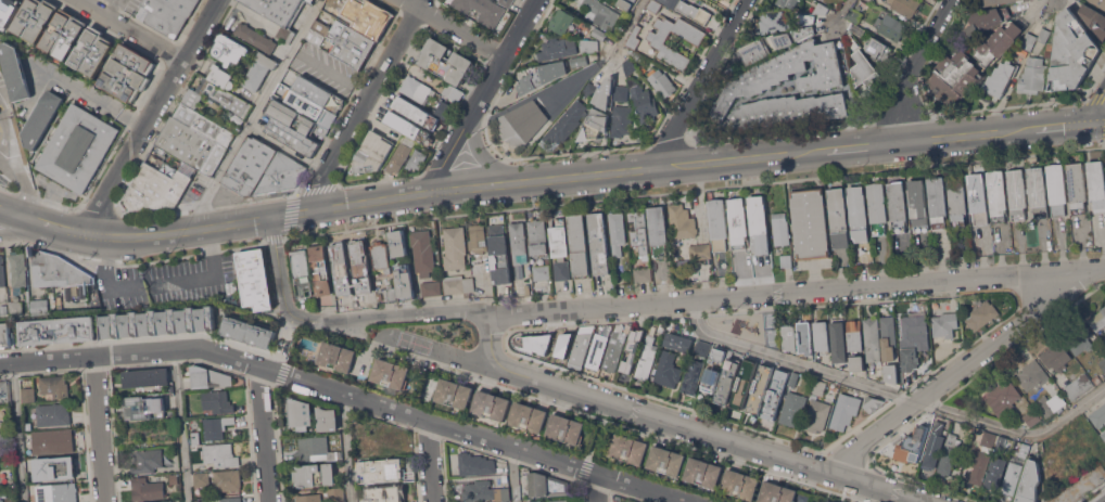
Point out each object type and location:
building: (869, 0)
building: (309, 1)
building: (507, 2)
building: (787, 2)
building: (995, 2)
building: (1100, 2)
building: (626, 3)
building: (655, 5)
building: (906, 7)
road: (1049, 7)
road: (111, 8)
building: (279, 9)
building: (688, 9)
building: (821, 9)
building: (8, 10)
building: (483, 10)
road: (841, 11)
building: (599, 13)
building: (168, 14)
building: (854, 15)
building: (28, 16)
building: (359, 17)
building: (805, 18)
building: (1094, 20)
building: (42, 21)
building: (986, 21)
building: (561, 22)
building: (774, 22)
road: (631, 26)
building: (891, 26)
road: (455, 27)
building: (858, 28)
building: (59, 30)
road: (130, 30)
building: (805, 31)
building: (319, 33)
building: (285, 34)
building: (599, 34)
building: (1044, 36)
building: (71, 37)
building: (255, 37)
building: (634, 38)
building: (783, 40)
building: (1029, 41)
building: (352, 43)
building: (999, 43)
building: (659, 44)
building: (588, 46)
building: (87, 48)
building: (230, 49)
building: (558, 49)
building: (879, 50)
building: (754, 52)
building: (1071, 52)
building: (637, 55)
building: (98, 56)
building: (136, 57)
building: (432, 61)
building: (579, 61)
road: (911, 65)
building: (630, 66)
building: (1, 67)
building: (863, 68)
building: (15, 70)
building: (259, 70)
building: (128, 74)
building: (785, 74)
building: (1033, 75)
building: (542, 76)
building: (955, 76)
building: (221, 77)
building: (1000, 78)
road: (701, 81)
building: (662, 83)
building: (119, 87)
building: (416, 88)
building: (593, 91)
building: (454, 92)
building: (318, 93)
building: (606, 93)
building: (622, 93)
road: (480, 94)
building: (225, 96)
road: (93, 98)
building: (192, 98)
road: (365, 102)
building: (643, 102)
road: (1094, 105)
building: (313, 108)
building: (445, 110)
building: (790, 110)
building: (417, 112)
road: (255, 113)
road: (153, 116)
building: (293, 117)
building: (42, 118)
building: (622, 120)
road: (3, 123)
building: (522, 123)
road: (1095, 123)
building: (566, 124)
traffic signals: (1085, 124)
building: (204, 125)
building: (595, 125)
road: (1060, 126)
building: (408, 127)
building: (292, 136)
road: (970, 136)
building: (192, 145)
road: (866, 146)
building: (78, 147)
building: (372, 152)
building: (401, 154)
building: (417, 159)
building: (251, 166)
building: (281, 176)
road: (25, 182)
building: (1096, 183)
building: (156, 186)
building: (1077, 188)
road: (458, 189)
building: (1057, 189)
building: (1038, 191)
building: (1017, 193)
building: (998, 194)
building: (978, 197)
building: (957, 199)
building: (938, 201)
building: (918, 204)
building: (898, 206)
building: (878, 207)
road: (16, 213)
building: (859, 213)
building: (839, 218)
building: (682, 222)
building: (738, 222)
building: (719, 223)
building: (811, 223)
building: (759, 224)
road: (62, 228)
road: (17, 229)
building: (780, 229)
building: (659, 231)
building: (639, 232)
building: (617, 233)
building: (538, 236)
building: (478, 239)
building: (398, 242)
building: (599, 244)
building: (579, 245)
building: (455, 248)
building: (560, 248)
building: (520, 249)
building: (703, 250)
building: (423, 253)
building: (499, 255)
building: (381, 256)
building: (786, 260)
building: (58, 270)
building: (321, 270)
building: (2, 271)
building: (542, 272)
building: (302, 273)
building: (643, 274)
building: (255, 280)
building: (405, 281)
road: (161, 282)
building: (17, 283)
parking lot: (169, 283)
building: (458, 284)
building: (431, 288)
building: (392, 294)
building: (380, 296)
road: (647, 304)
building: (40, 307)
building: (982, 314)
building: (1097, 319)
building: (157, 323)
building: (944, 326)
building: (58, 331)
building: (915, 331)
building: (249, 332)
building: (5, 335)
building: (854, 335)
building: (788, 336)
building: (822, 336)
building: (888, 337)
building: (1080, 337)
building: (805, 338)
building: (872, 338)
building: (838, 339)
road: (292, 340)
building: (677, 342)
building: (599, 345)
building: (547, 346)
building: (581, 346)
building: (614, 348)
building: (632, 349)
road: (442, 351)
building: (1056, 357)
building: (338, 358)
building: (647, 358)
road: (793, 360)
building: (909, 361)
building: (856, 362)
building: (1102, 363)
building: (697, 366)
building: (668, 369)
building: (713, 370)
road: (958, 370)
building: (891, 373)
road: (281, 374)
building: (391, 375)
building: (1032, 375)
building: (145, 377)
building: (209, 377)
building: (795, 378)
building: (727, 381)
building: (745, 384)
building: (835, 386)
building: (1079, 386)
building: (54, 387)
building: (818, 387)
building: (760, 388)
building: (846, 388)
road: (347, 392)
building: (3, 394)
building: (454, 394)
building: (775, 395)
building: (28, 396)
building: (1002, 398)
building: (217, 402)
building: (873, 402)
building: (1051, 403)
building: (491, 406)
building: (145, 408)
building: (792, 409)
building: (843, 411)
building: (301, 414)
building: (53, 415)
building: (816, 415)
building: (1098, 415)
building: (1031, 416)
building: (528, 417)
road: (1066, 417)
road: (970, 419)
building: (327, 420)
road: (180, 425)
road: (679, 426)
building: (28, 427)
road: (99, 428)
building: (215, 428)
building: (566, 429)
road: (17, 432)
road: (263, 434)
building: (1104, 434)
building: (3, 437)
road: (596, 437)
building: (390, 439)
building: (989, 439)
building: (53, 441)
building: (1005, 443)
building: (912, 445)
building: (933, 446)
building: (193, 447)
road: (345, 447)
building: (314, 449)
building: (363, 449)
building: (628, 450)
building: (1025, 451)
building: (220, 454)
building: (949, 454)
road: (429, 461)
building: (147, 462)
building: (666, 462)
building: (474, 465)
building: (979, 466)
building: (54, 468)
building: (381, 471)
building: (703, 473)
building: (996, 473)
road: (511, 474)
building: (315, 475)
building: (1012, 477)
building: (174, 478)
building: (505, 478)
building: (202, 479)
building: (228, 479)
building: (1030, 481)
building: (547, 485)
building: (740, 485)
road: (596, 488)
building: (147, 490)
building: (479, 491)
road: (1091, 491)
building: (776, 492)
building: (58, 493)
building: (385, 493)
building: (503, 493)
building: (2, 494)
building: (308, 498)
building: (226, 499)
building: (534, 501)
building: (561, 501)
building: (829, 501)

